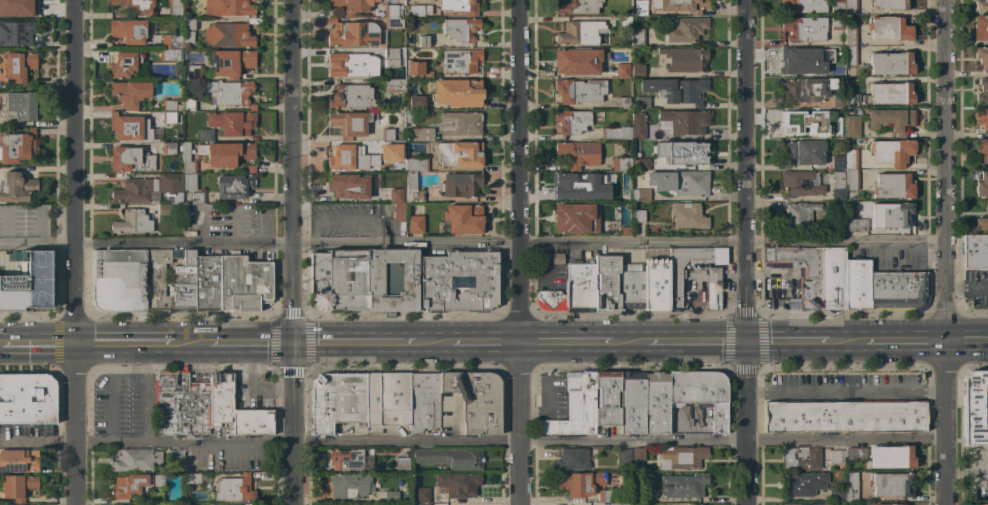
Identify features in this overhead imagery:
building: (889, 4)
building: (136, 5)
building: (680, 5)
building: (981, 5)
building: (352, 6)
building: (458, 6)
building: (802, 6)
building: (837, 6)
building: (14, 7)
building: (576, 7)
building: (640, 7)
building: (850, 7)
building: (228, 8)
building: (174, 9)
building: (421, 10)
building: (399, 13)
building: (392, 17)
building: (253, 21)
building: (837, 22)
building: (189, 24)
building: (625, 24)
building: (980, 28)
building: (686, 29)
building: (803, 29)
building: (889, 29)
building: (460, 30)
building: (128, 31)
building: (581, 32)
building: (16, 33)
building: (351, 34)
building: (850, 34)
building: (228, 35)
building: (637, 37)
building: (187, 39)
building: (423, 41)
road: (965, 42)
building: (170, 43)
building: (400, 43)
building: (409, 43)
building: (170, 55)
building: (850, 56)
building: (391, 57)
building: (982, 57)
building: (684, 59)
building: (460, 60)
building: (802, 60)
building: (231, 62)
building: (576, 63)
building: (891, 63)
building: (124, 64)
building: (19, 65)
building: (352, 65)
building: (415, 68)
building: (838, 69)
building: (638, 70)
building: (619, 71)
building: (193, 72)
building: (394, 84)
building: (806, 89)
building: (579, 90)
building: (676, 90)
building: (982, 91)
building: (229, 92)
building: (456, 92)
building: (130, 93)
building: (890, 94)
building: (350, 96)
building: (838, 100)
building: (853, 100)
building: (624, 102)
building: (642, 102)
building: (416, 103)
building: (21, 105)
building: (169, 105)
building: (189, 105)
building: (408, 116)
building: (168, 118)
building: (891, 120)
building: (980, 120)
building: (571, 121)
building: (684, 121)
building: (797, 121)
building: (231, 122)
building: (350, 123)
building: (460, 123)
building: (638, 126)
building: (852, 126)
building: (132, 128)
building: (838, 131)
building: (418, 133)
building: (616, 133)
building: (205, 134)
building: (387, 134)
building: (18, 146)
building: (168, 148)
building: (393, 148)
building: (981, 149)
building: (684, 152)
building: (891, 152)
building: (225, 153)
building: (579, 153)
building: (802, 153)
building: (459, 154)
building: (349, 158)
building: (130, 159)
building: (851, 159)
building: (188, 160)
building: (837, 162)
building: (415, 164)
building: (621, 164)
building: (642, 164)
building: (250, 169)
building: (851, 180)
building: (189, 182)
building: (680, 182)
building: (802, 183)
building: (460, 184)
building: (578, 184)
building: (982, 185)
building: (233, 186)
building: (348, 186)
building: (837, 186)
building: (893, 186)
building: (16, 187)
building: (412, 188)
building: (150, 189)
building: (624, 193)
building: (396, 195)
building: (643, 195)
building: (197, 197)
building: (164, 209)
building: (396, 213)
building: (799, 215)
building: (638, 216)
building: (688, 216)
building: (895, 216)
building: (575, 218)
building: (463, 219)
building: (132, 222)
building: (981, 223)
building: (415, 224)
building: (838, 224)
building: (855, 225)
road: (471, 243)
road: (73, 252)
road: (291, 252)
road: (517, 252)
road: (744, 252)
road: (943, 252)
building: (975, 252)
building: (557, 258)
road: (532, 275)
building: (170, 279)
building: (365, 279)
building: (832, 279)
building: (119, 280)
building: (459, 280)
building: (207, 281)
building: (28, 283)
building: (232, 283)
building: (607, 283)
building: (656, 284)
building: (857, 284)
building: (257, 285)
building: (580, 286)
building: (723, 286)
building: (631, 287)
building: (675, 288)
building: (713, 288)
building: (809, 288)
building: (899, 291)
building: (548, 299)
road: (904, 341)
road: (965, 341)
road: (786, 342)
road: (847, 342)
road: (353, 343)
road: (432, 343)
road: (483, 343)
road: (565, 343)
road: (631, 343)
road: (697, 343)
traffic signals: (744, 343)
road: (123, 344)
road: (191, 344)
road: (250, 344)
traffic signals: (291, 344)
road: (1, 345)
road: (38, 345)
building: (221, 391)
road: (844, 391)
building: (701, 394)
building: (27, 398)
building: (607, 398)
building: (373, 399)
building: (394, 399)
building: (337, 400)
building: (476, 400)
building: (183, 401)
building: (423, 402)
building: (632, 403)
building: (656, 403)
building: (575, 406)
building: (976, 408)
building: (845, 416)
road: (471, 443)
building: (854, 453)
building: (638, 454)
building: (623, 455)
building: (836, 456)
building: (173, 457)
building: (682, 457)
building: (892, 457)
building: (450, 458)
building: (801, 458)
building: (346, 459)
building: (572, 459)
building: (135, 460)
building: (19, 461)
building: (402, 464)
road: (965, 473)
building: (192, 478)
building: (579, 483)
building: (458, 484)
building: (802, 484)
building: (135, 485)
building: (350, 485)
building: (892, 485)
building: (18, 486)
building: (684, 486)
building: (851, 488)
building: (234, 489)
building: (421, 495)
building: (837, 495)
building: (604, 496)
building: (643, 496)
building: (392, 497)
building: (155, 498)
building: (422, 504)
building: (618, 504)
building: (690, 504)
building: (798, 504)
building: (825, 504)
building: (876, 504)
building: (891, 504)
building: (981, 504)

